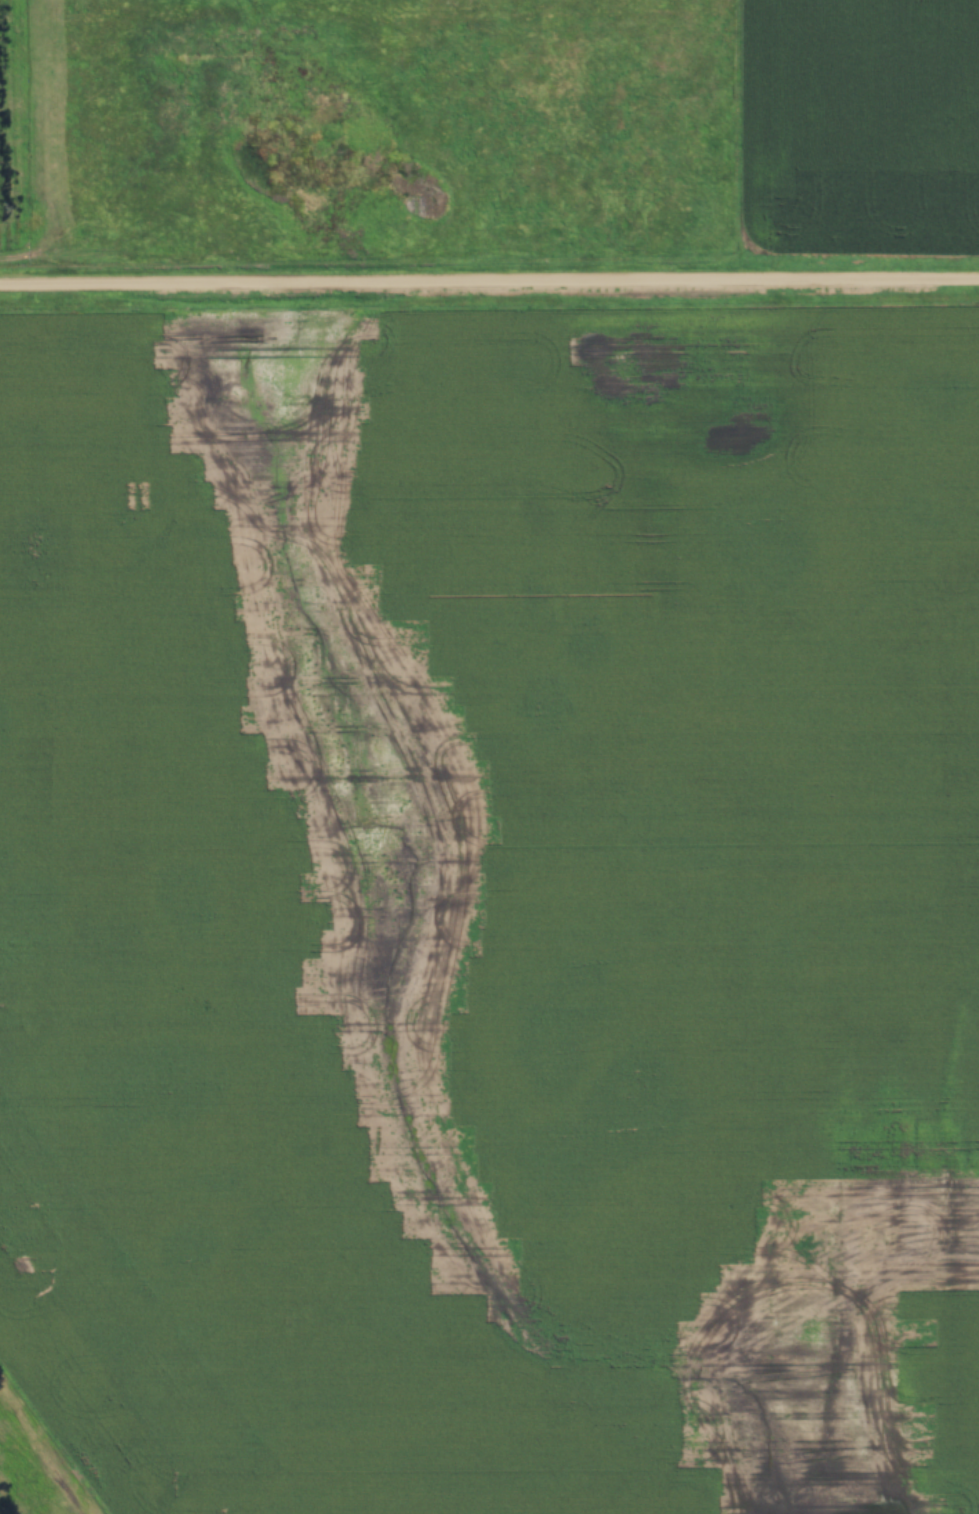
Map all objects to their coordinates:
road: (489, 287)

